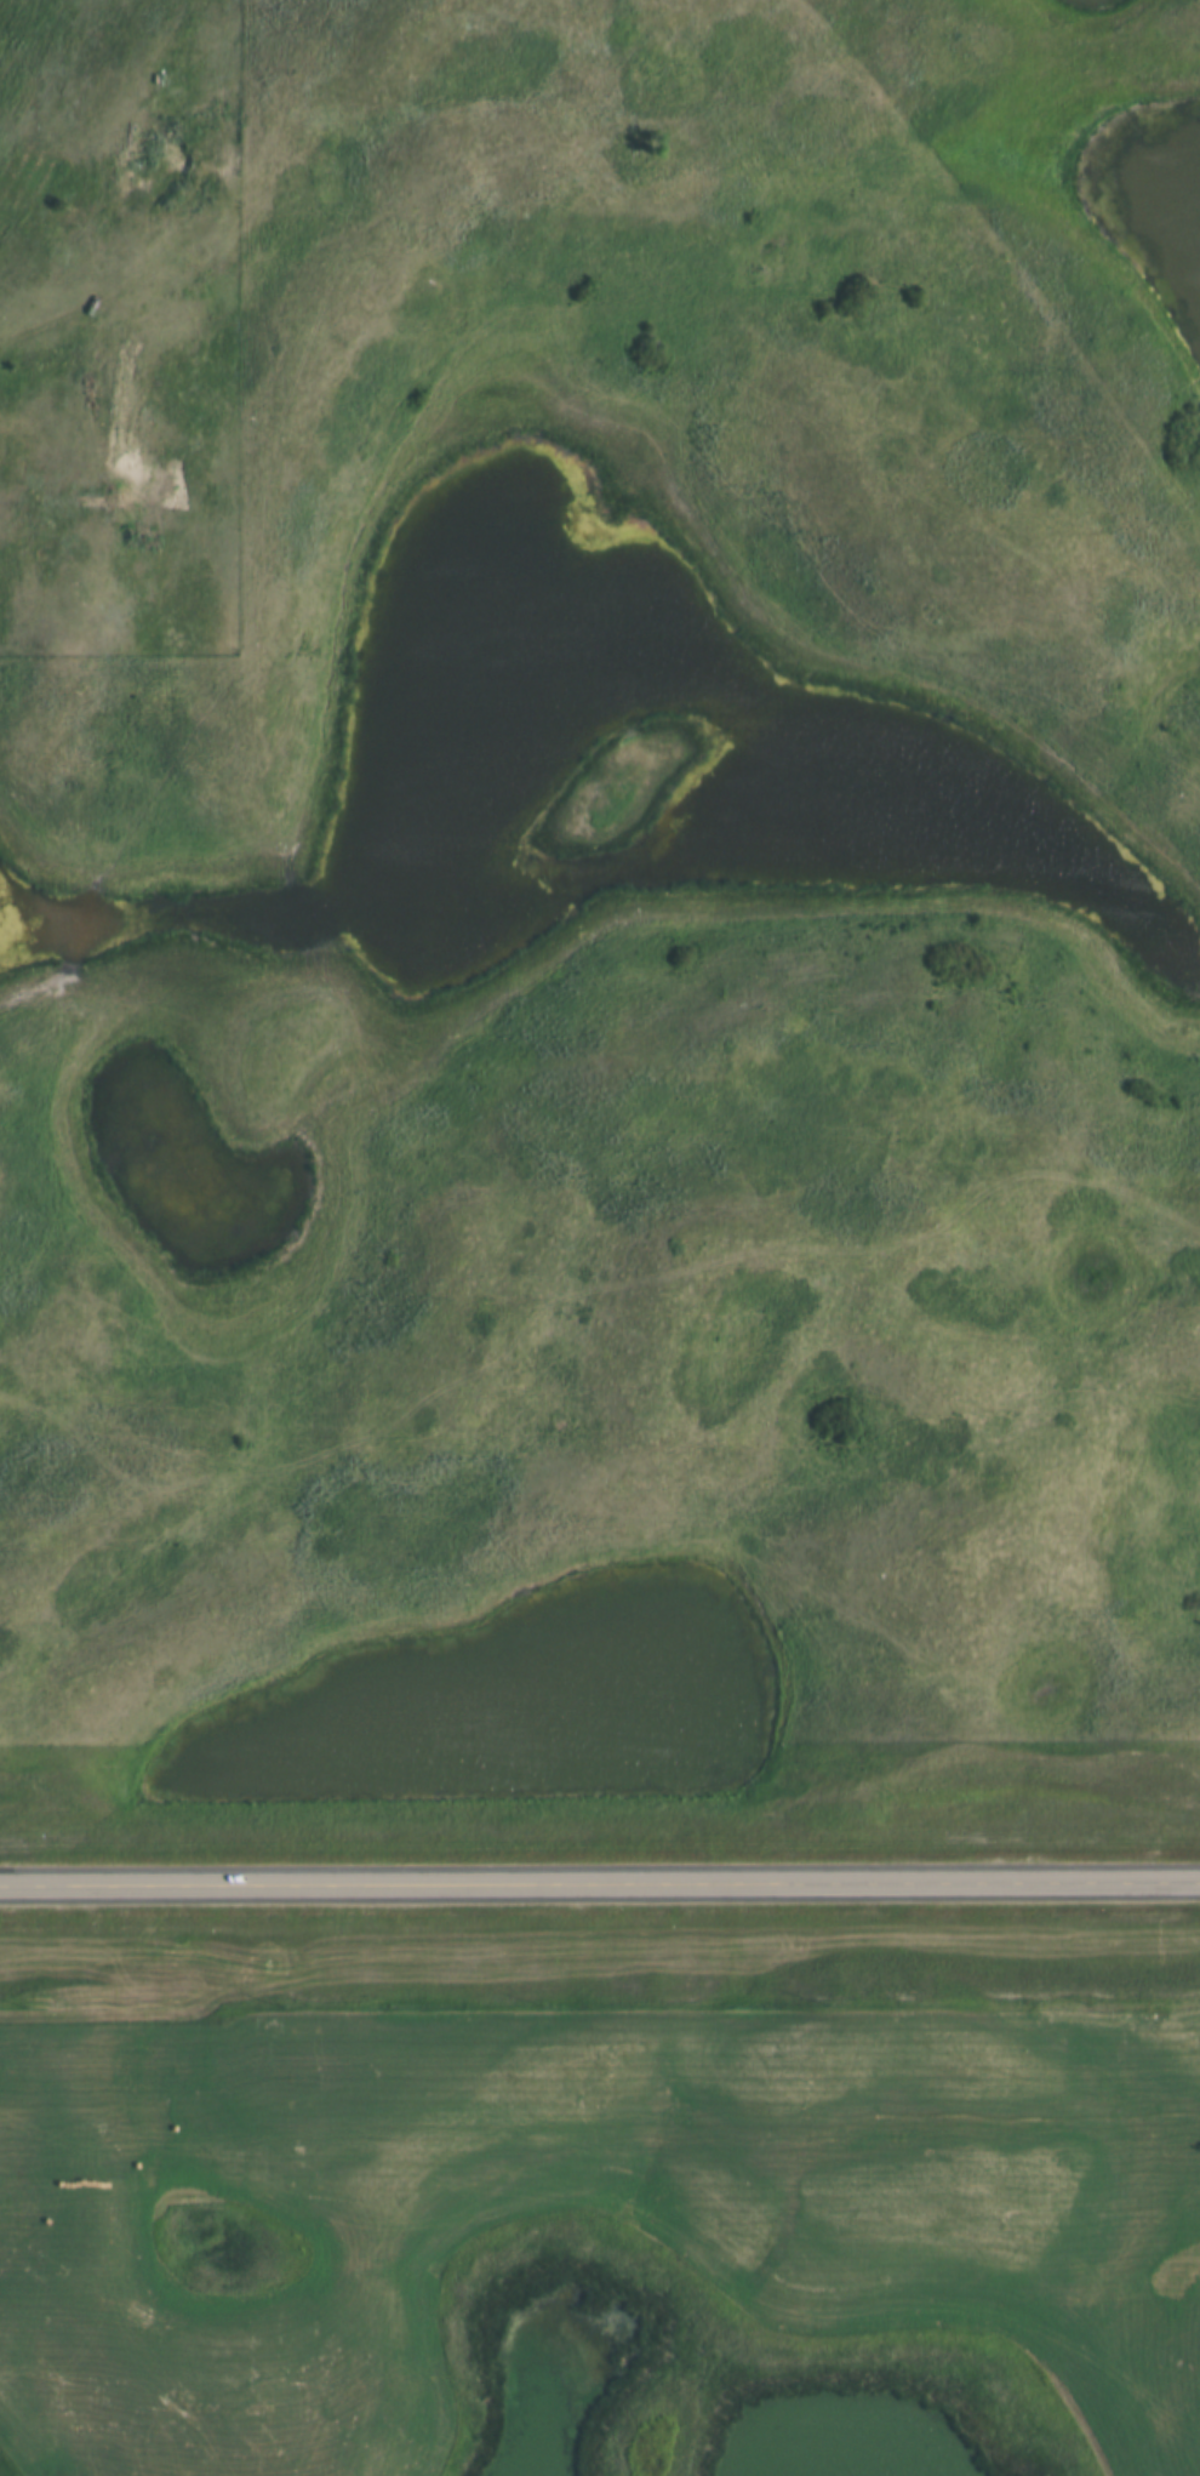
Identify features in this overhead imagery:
road: (599, 1876)

